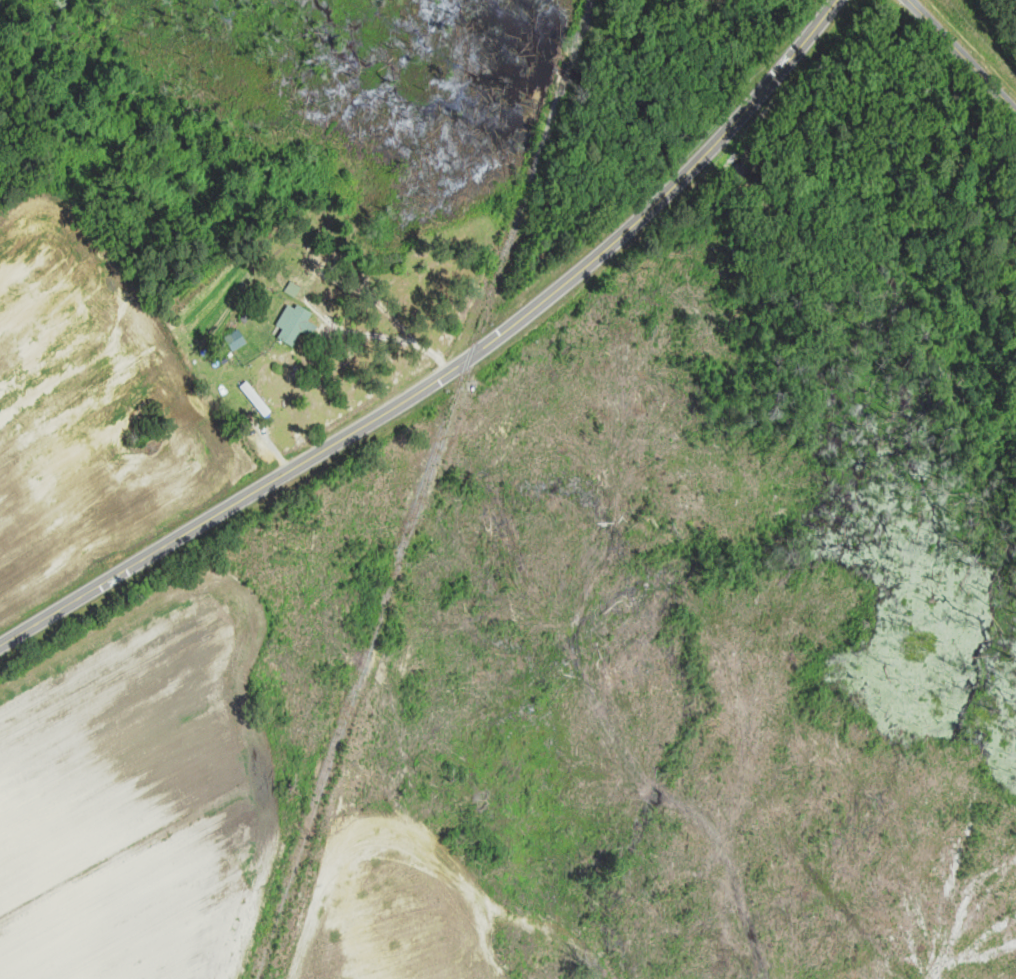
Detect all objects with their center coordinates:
railway: (581, 29)
road: (962, 55)
railway: (569, 68)
building: (291, 290)
building: (291, 324)
building: (234, 340)
road: (453, 367)
railway: (409, 528)

